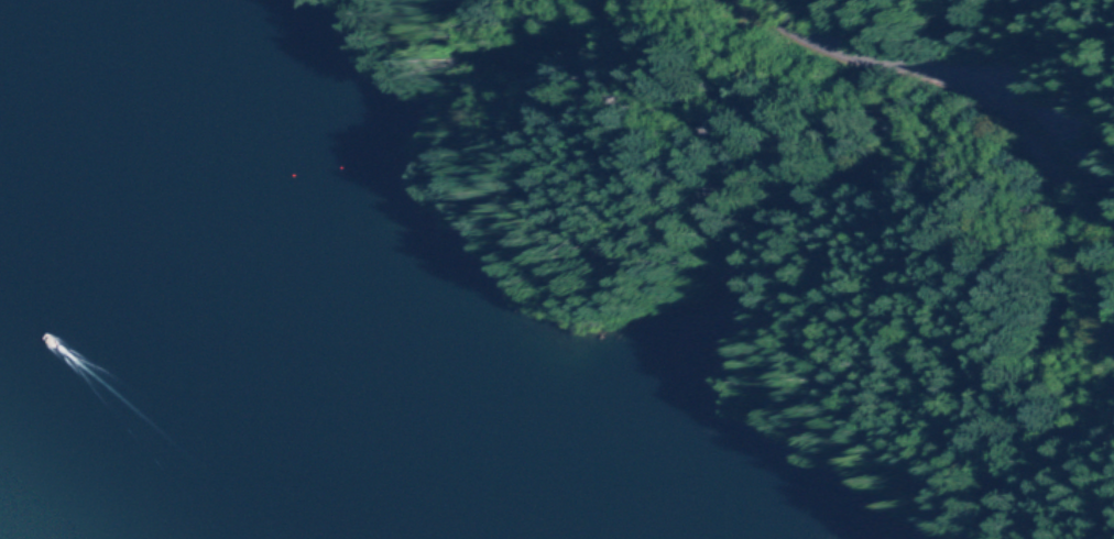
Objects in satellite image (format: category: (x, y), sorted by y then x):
road: (862, 43)
road: (1059, 133)
road: (1050, 208)

